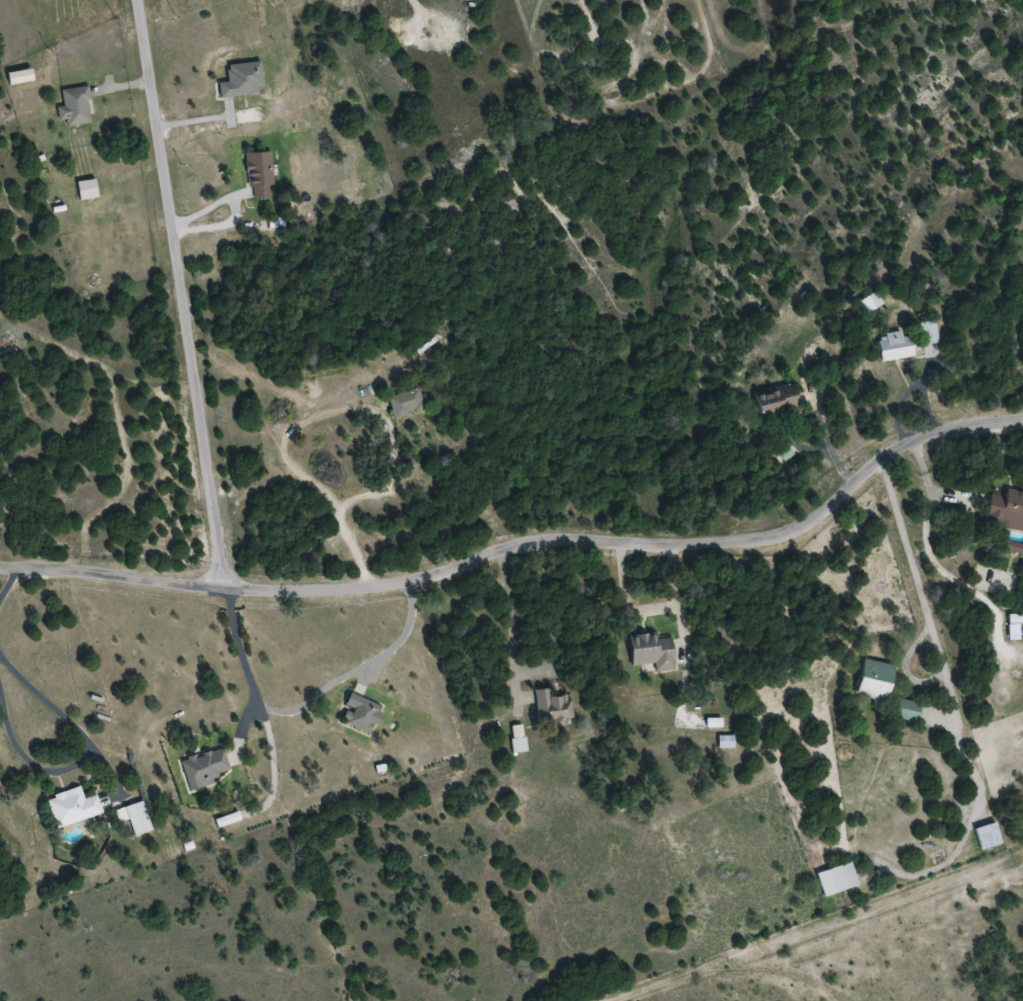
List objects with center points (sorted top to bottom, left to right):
building: (239, 80)
building: (73, 107)
building: (257, 174)
road: (184, 292)
building: (927, 332)
building: (893, 346)
building: (773, 402)
building: (404, 403)
road: (615, 417)
road: (352, 498)
building: (1005, 510)
road: (525, 535)
road: (8, 578)
building: (994, 581)
road: (917, 589)
building: (1012, 625)
building: (649, 651)
road: (244, 669)
road: (357, 669)
building: (872, 679)
building: (550, 705)
building: (903, 709)
road: (56, 711)
building: (359, 714)
building: (516, 745)
building: (203, 768)
building: (70, 806)
building: (133, 817)
building: (223, 819)
building: (986, 835)
road: (910, 870)
building: (835, 879)

